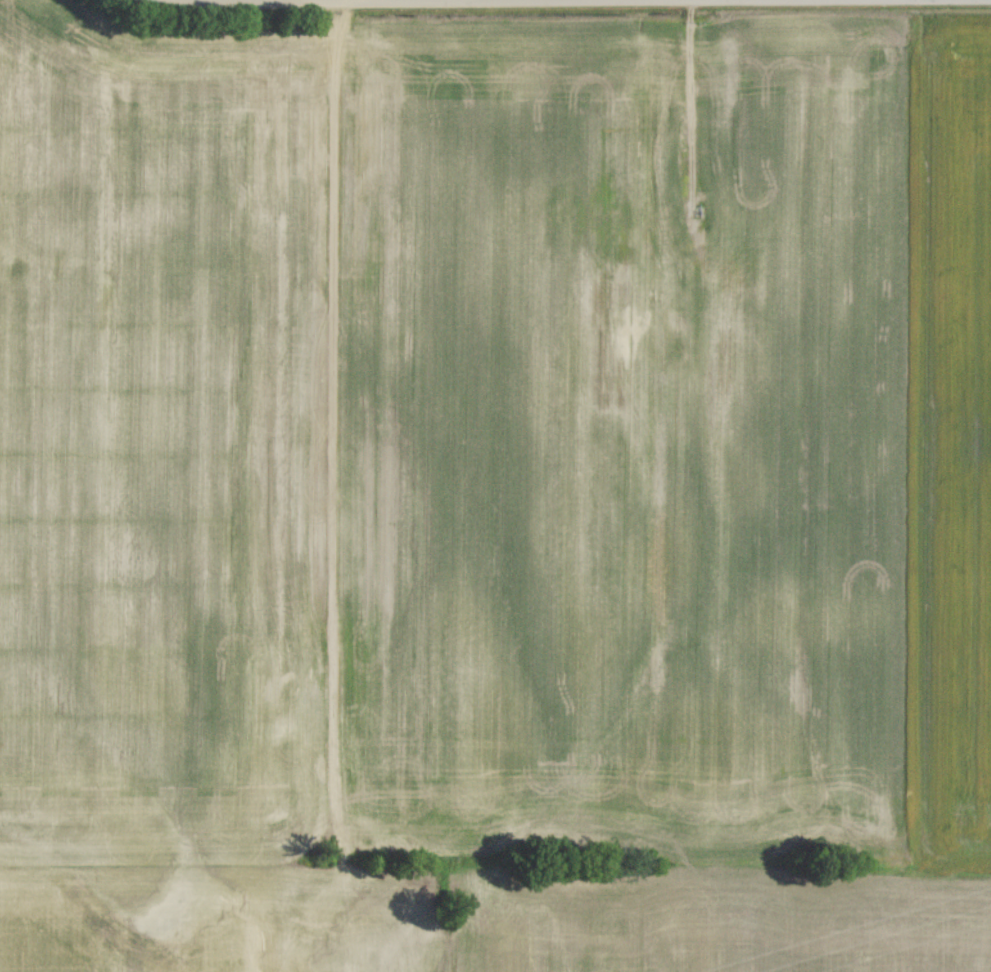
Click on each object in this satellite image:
road: (568, 6)
road: (352, 490)

